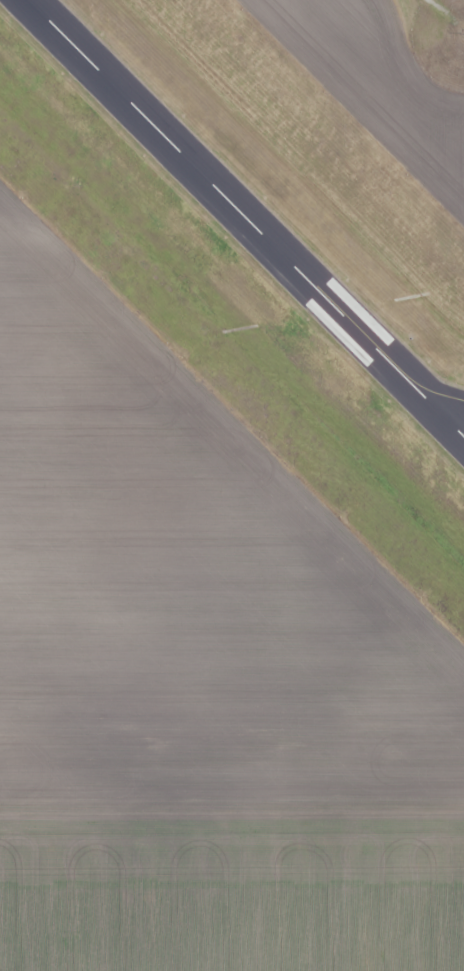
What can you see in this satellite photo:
road: (441, 9)
airport runway: (246, 218)
airport taxiway: (439, 393)
airport: (232, 410)

